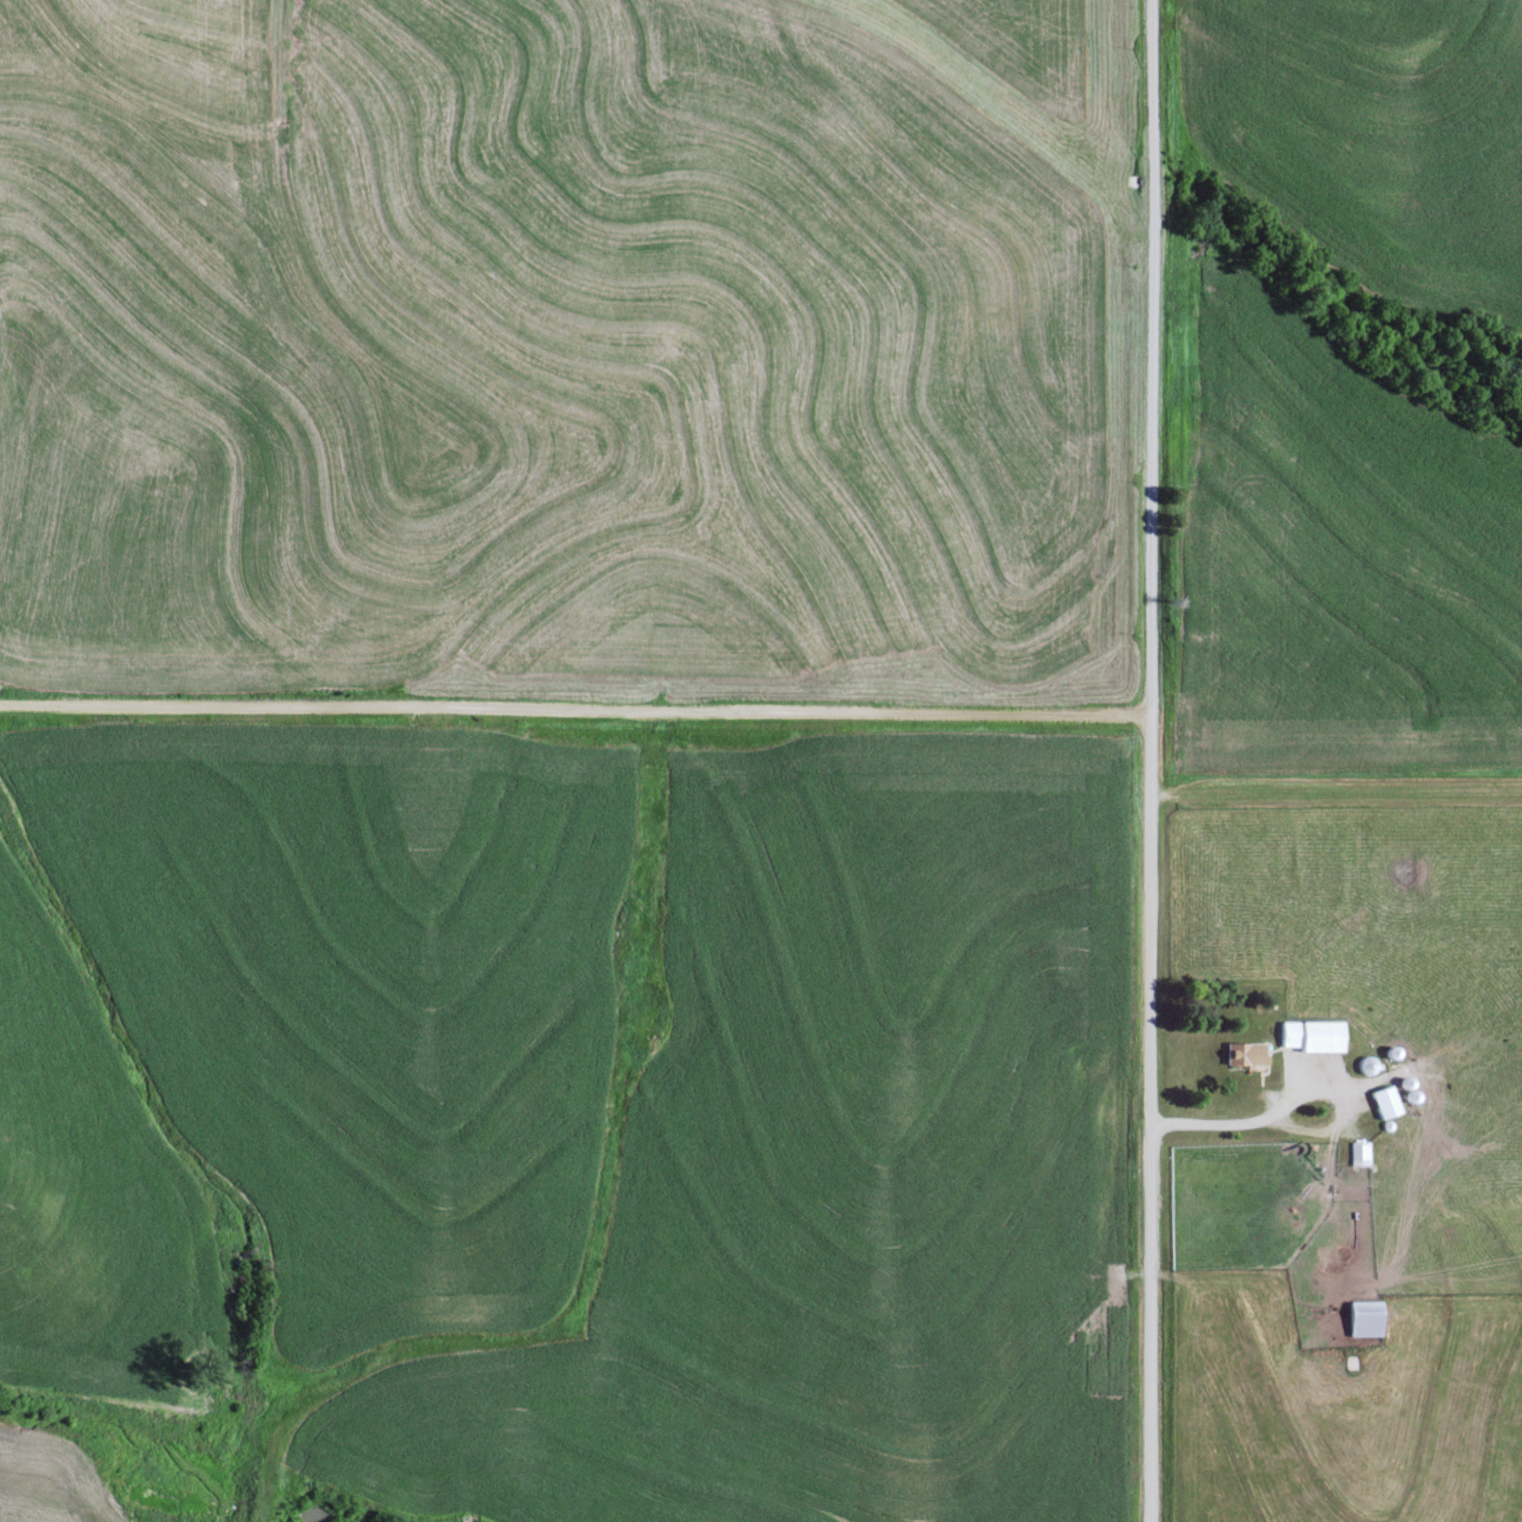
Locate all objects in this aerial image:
road: (576, 707)
road: (1152, 760)
building: (1309, 1035)
building: (1243, 1054)
building: (1365, 1065)
building: (1406, 1097)
building: (1382, 1102)
building: (1357, 1152)
building: (1361, 1318)

